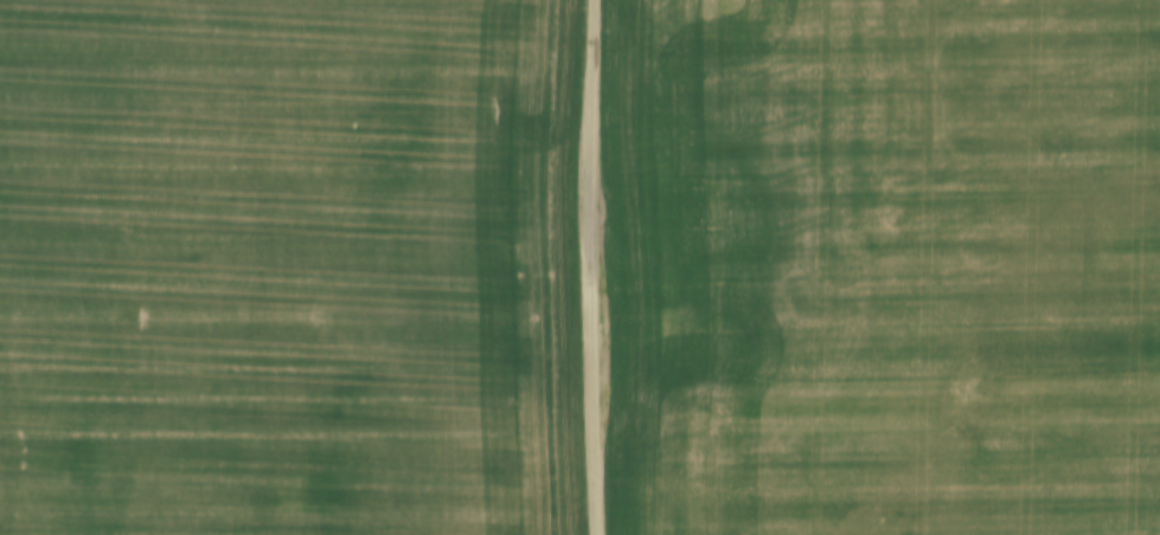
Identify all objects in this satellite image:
road: (597, 267)

